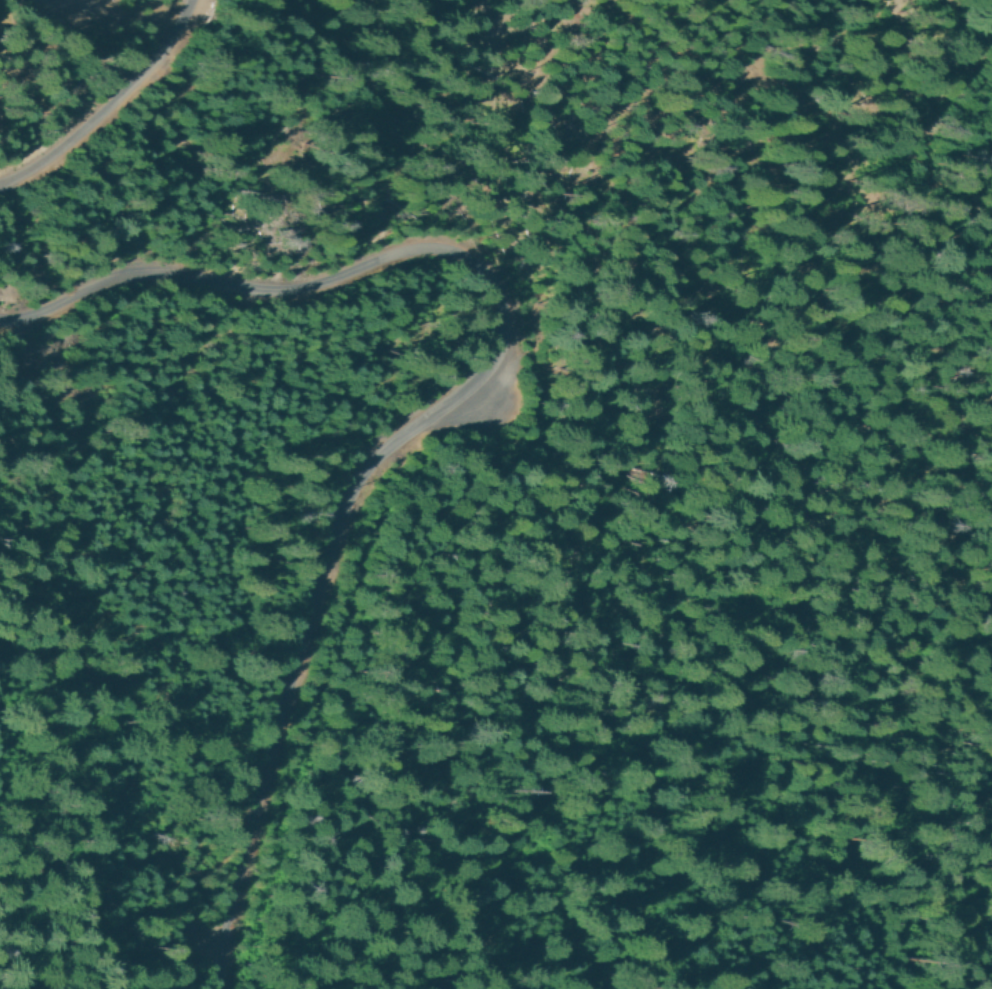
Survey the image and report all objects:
road: (99, 89)
road: (459, 393)

